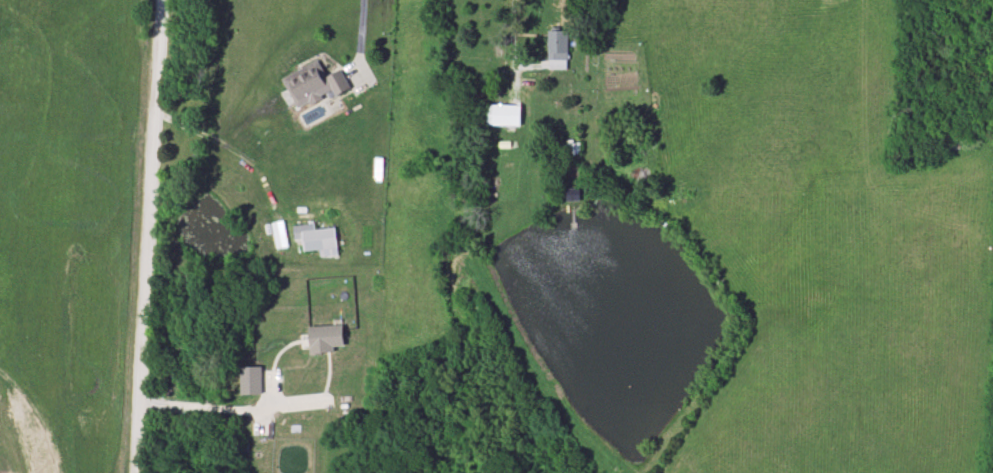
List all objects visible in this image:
road: (356, 22)
building: (557, 46)
road: (514, 55)
building: (312, 84)
building: (502, 116)
road: (238, 153)
road: (142, 236)
building: (315, 238)
road: (188, 399)

